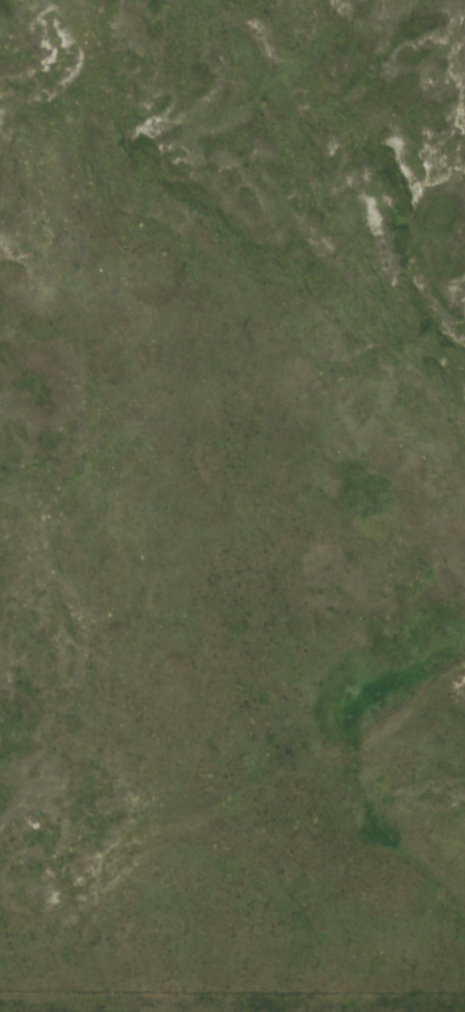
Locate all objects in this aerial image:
road: (231, 809)

